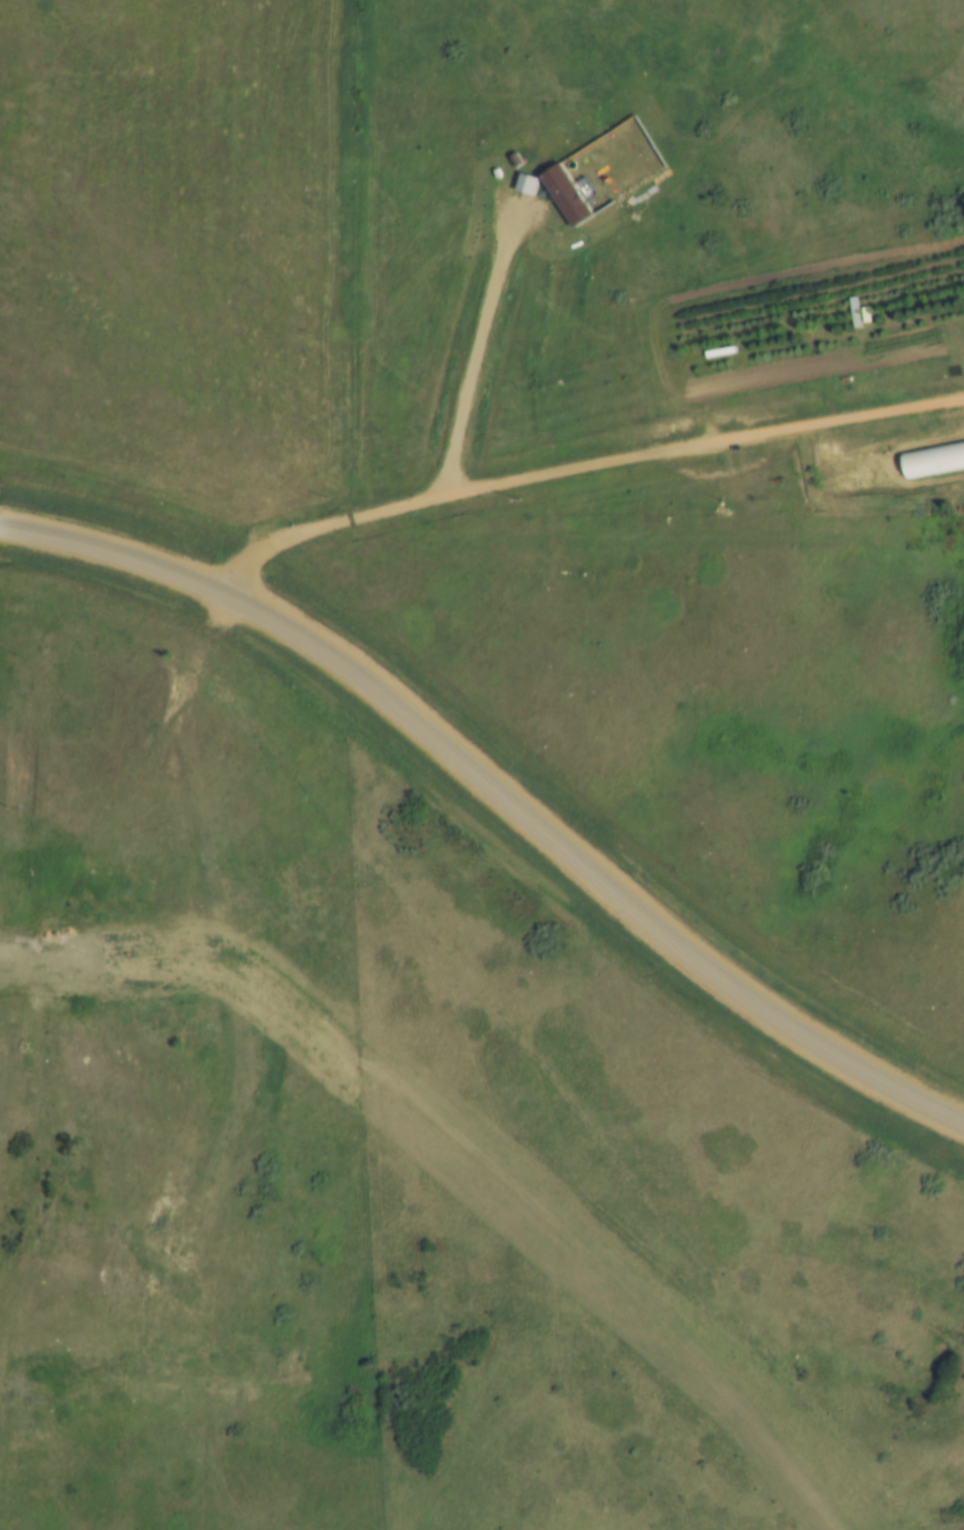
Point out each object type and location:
building: (513, 157)
building: (566, 195)
road: (476, 346)
building: (931, 457)
road: (582, 465)
road: (495, 791)

